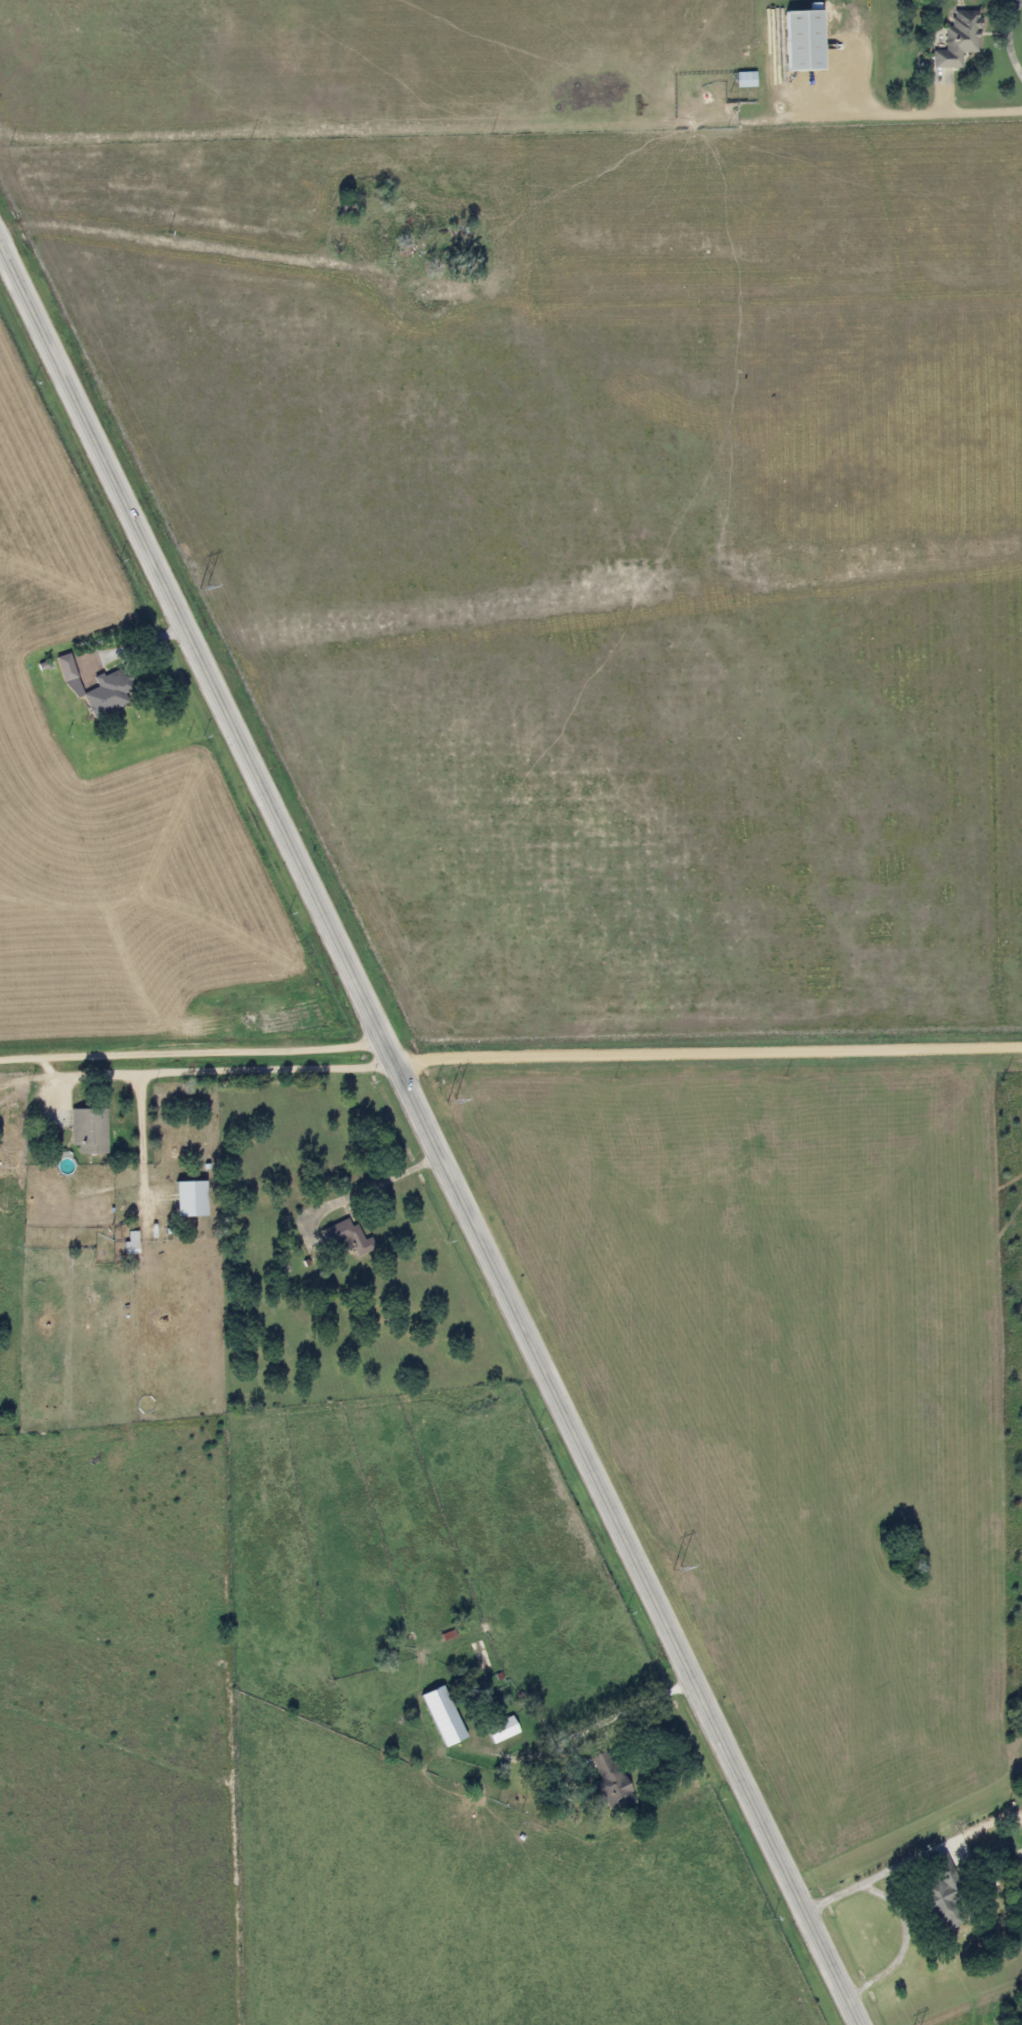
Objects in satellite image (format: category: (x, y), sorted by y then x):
building: (802, 39)
road: (1006, 39)
building: (956, 40)
building: (743, 80)
road: (978, 112)
road: (198, 241)
power tower: (202, 587)
building: (96, 689)
road: (195, 1053)
road: (706, 1053)
road: (223, 1067)
power tower: (449, 1100)
building: (87, 1130)
road: (430, 1133)
road: (137, 1155)
road: (371, 1185)
building: (180, 1209)
building: (345, 1238)
building: (128, 1247)
power tower: (675, 1567)
building: (441, 1716)
building: (500, 1730)
road: (586, 1736)
building: (608, 1781)
road: (900, 1866)
building: (937, 1902)
road: (900, 1914)

